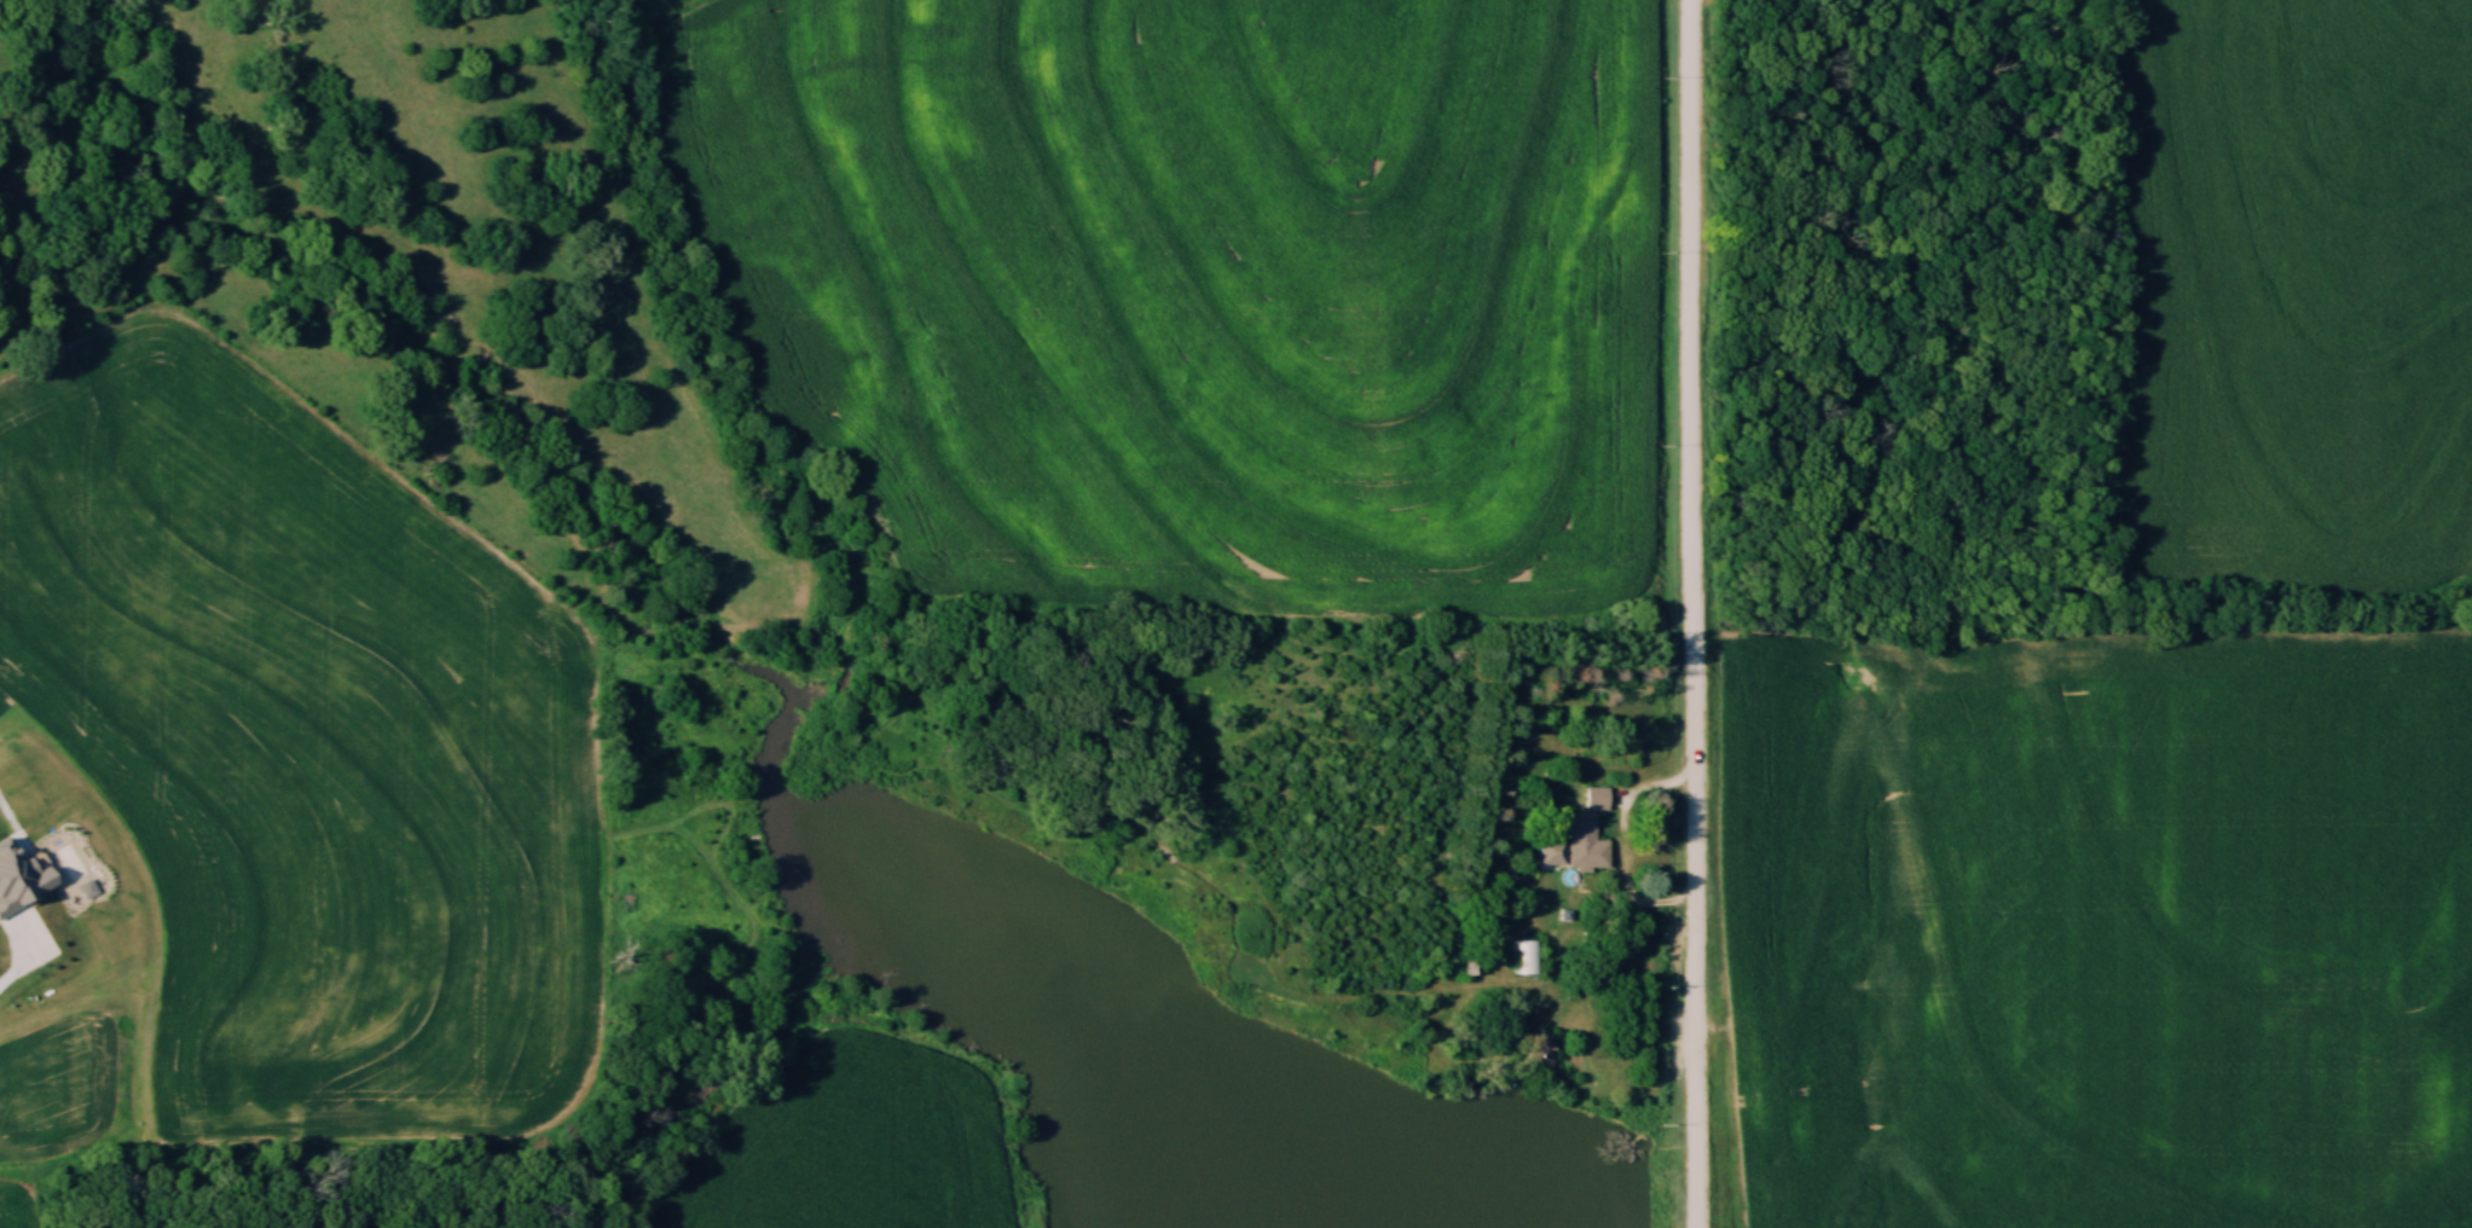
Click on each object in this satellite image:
road: (1692, 614)
road: (1625, 850)
building: (1527, 957)
building: (1545, 1049)

